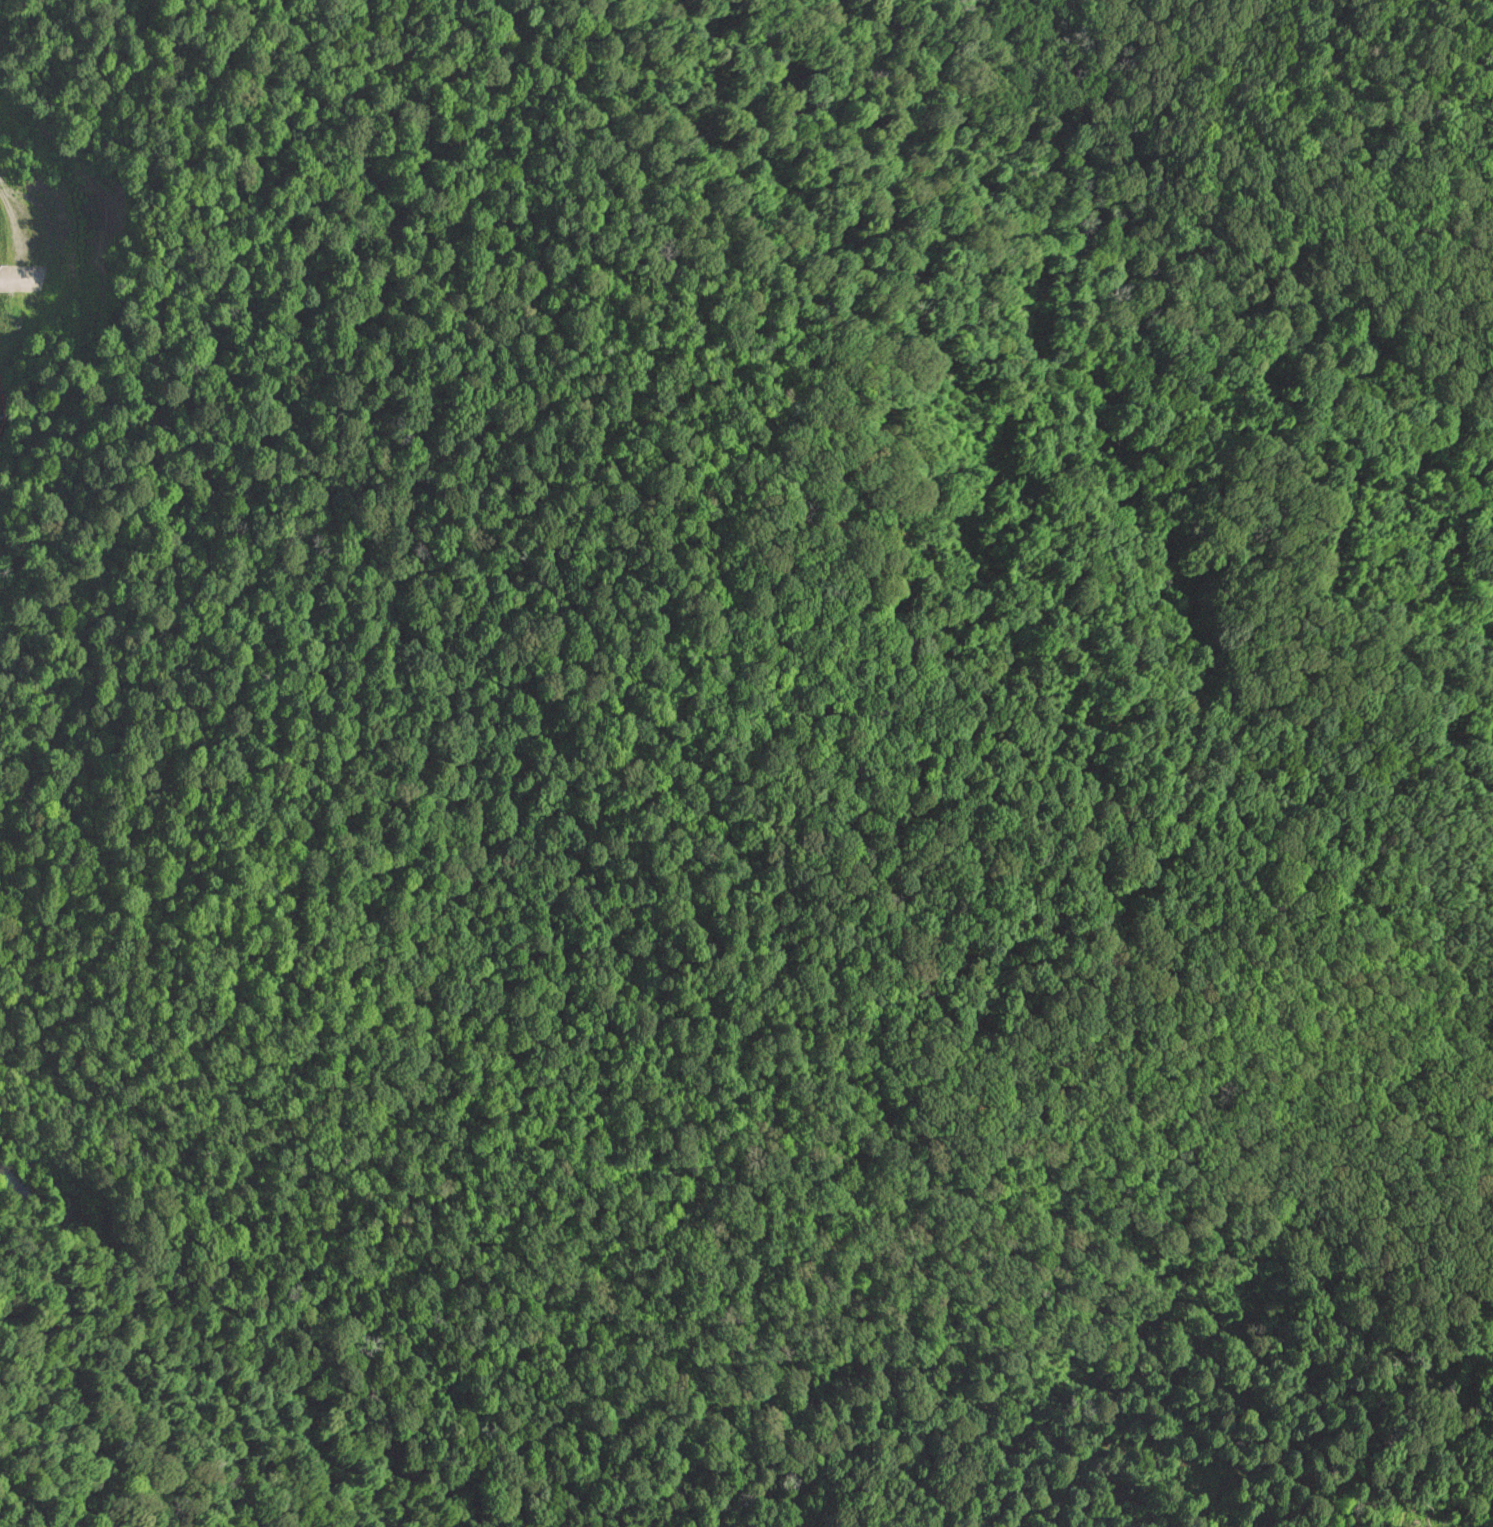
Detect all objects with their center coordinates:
road: (12, 223)
dam: (23, 274)
road: (30, 383)
road: (68, 1204)

